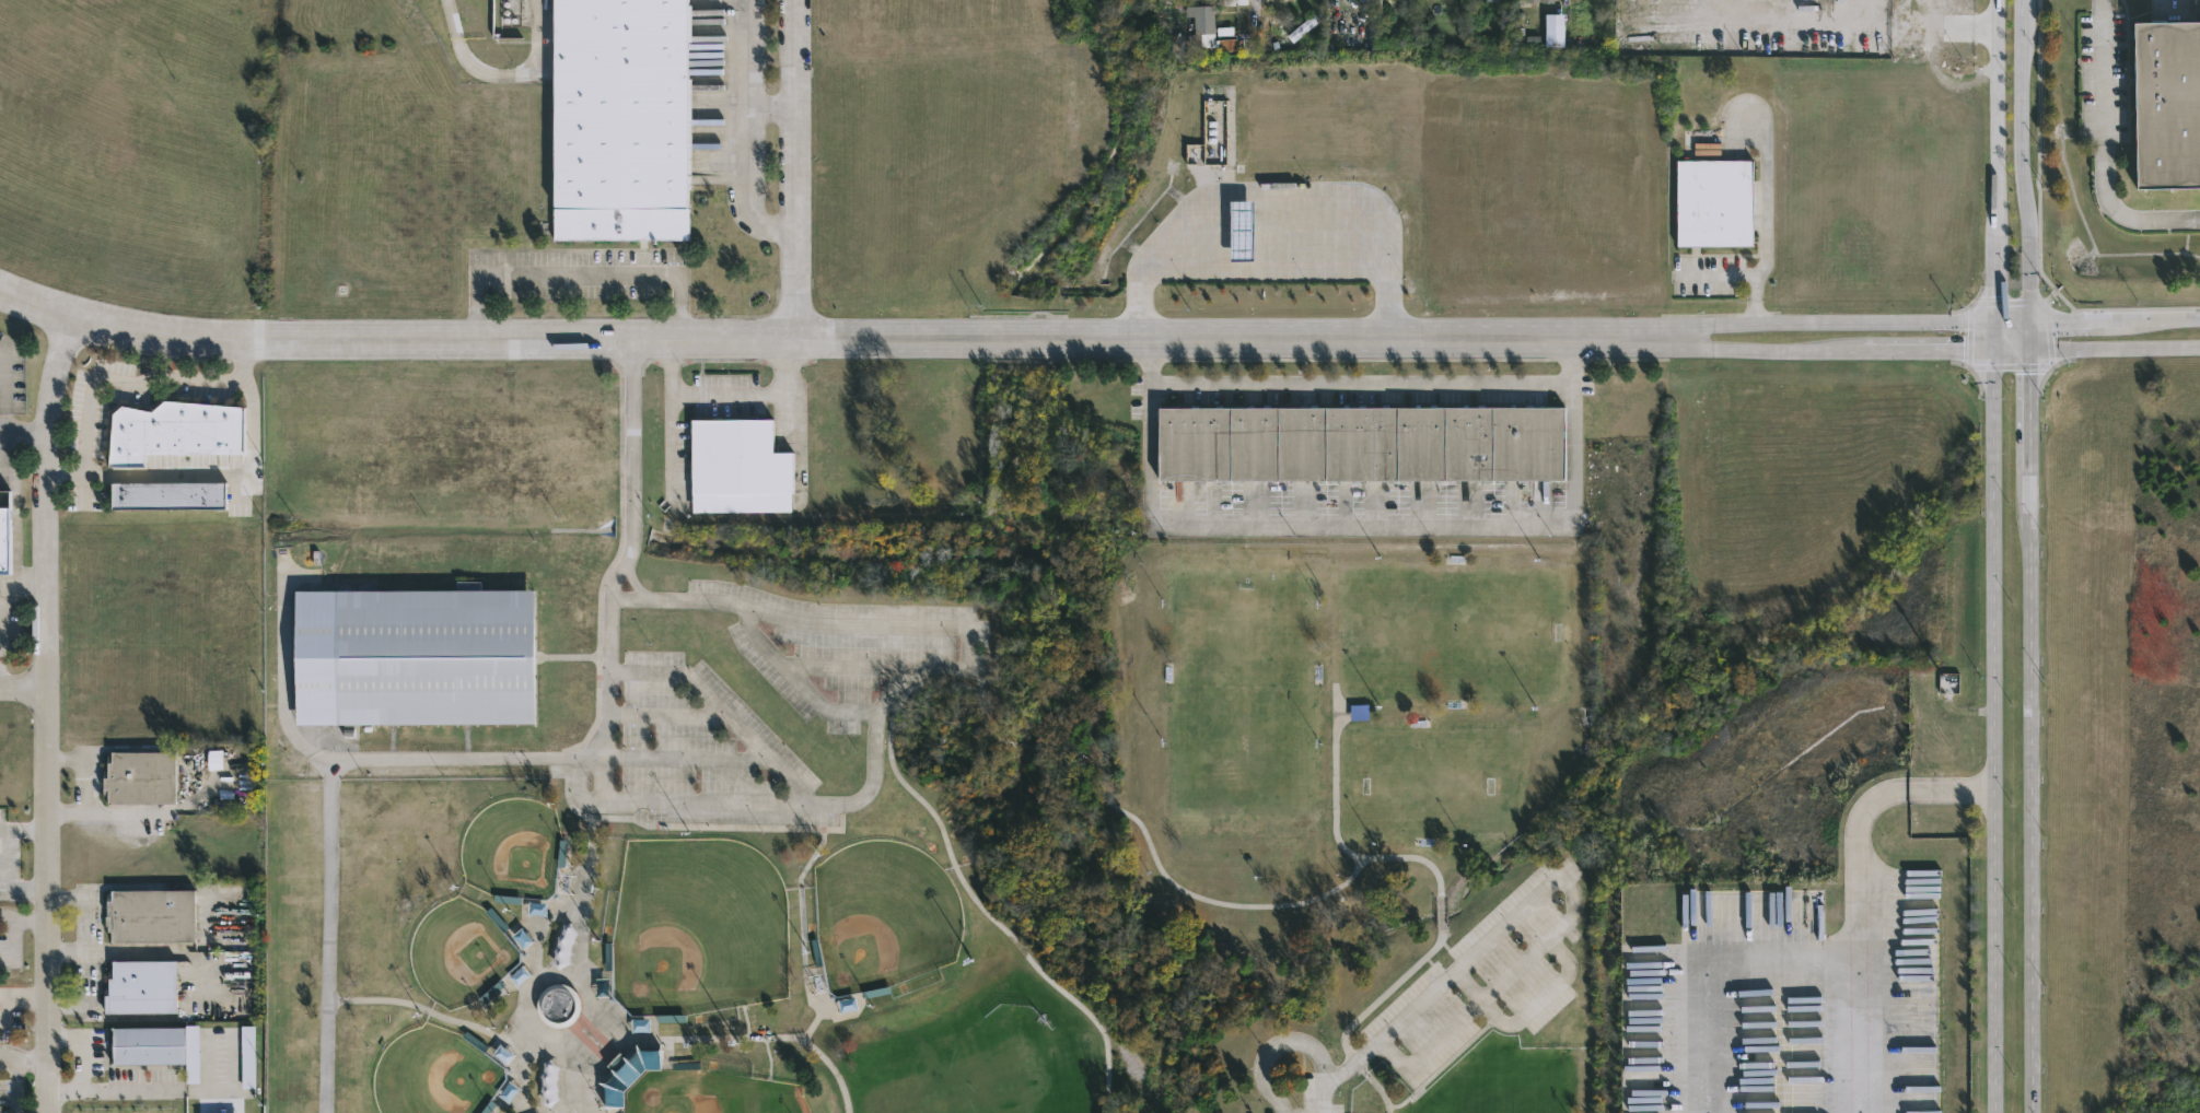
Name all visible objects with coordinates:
building: (1491, 0)
building: (1539, 1)
road: (1557, 2)
road: (2019, 9)
road: (1255, 12)
building: (1200, 21)
road: (1883, 24)
building: (1302, 25)
building: (1553, 30)
road: (1995, 59)
building: (2166, 102)
road: (771, 114)
building: (622, 119)
road: (746, 136)
road: (2102, 151)
road: (796, 169)
road: (2021, 171)
building: (1714, 201)
road: (1765, 219)
road: (1997, 221)
building: (1241, 231)
road: (1262, 269)
road: (1722, 277)
road: (577, 278)
road: (2161, 320)
road: (2013, 323)
traffic signals: (2030, 323)
road: (2075, 323)
road: (1834, 324)
traffic signals: (1995, 324)
road: (2029, 336)
road: (1995, 337)
road: (833, 339)
road: (2097, 347)
traffic signals: (2029, 349)
road: (1834, 350)
traffic signals: (1995, 350)
road: (118, 379)
road: (1361, 382)
road: (3, 391)
road: (729, 393)
road: (25, 426)
road: (2029, 427)
building: (174, 429)
building: (1362, 444)
road: (671, 445)
building: (740, 467)
road: (213, 476)
building: (167, 493)
building: (4, 499)
road: (1362, 525)
building: (5, 540)
road: (8, 587)
road: (959, 628)
park: (1450, 629)
building: (415, 657)
road: (284, 672)
road: (23, 688)
road: (891, 689)
park: (1243, 690)
road: (719, 706)
road: (47, 712)
building: (1359, 712)
road: (666, 716)
road: (1997, 730)
road: (1036, 747)
road: (323, 757)
road: (465, 759)
road: (684, 759)
building: (135, 774)
park: (1427, 781)
road: (702, 802)
road: (2032, 809)
park: (1392, 812)
road: (2, 827)
road: (1334, 827)
park: (727, 840)
road: (947, 844)
park: (512, 847)
road: (3, 857)
road: (117, 886)
road: (1852, 889)
road: (1184, 891)
road: (1572, 901)
road: (1440, 912)
building: (150, 913)
park: (882, 914)
road: (23, 924)
park: (697, 925)
road: (328, 937)
park: (458, 951)
road: (147, 953)
road: (1706, 968)
building: (141, 983)
road: (1467, 984)
road: (1540, 997)
building: (558, 1006)
road: (1358, 1012)
road: (108, 1018)
road: (765, 1035)
road: (1289, 1041)
building: (149, 1042)
road: (78, 1048)
building: (247, 1056)
road: (24, 1058)
road: (1350, 1062)
building: (628, 1071)
park: (434, 1073)
road: (16, 1085)
park: (1510, 1088)
road: (164, 1089)
park: (710, 1092)

